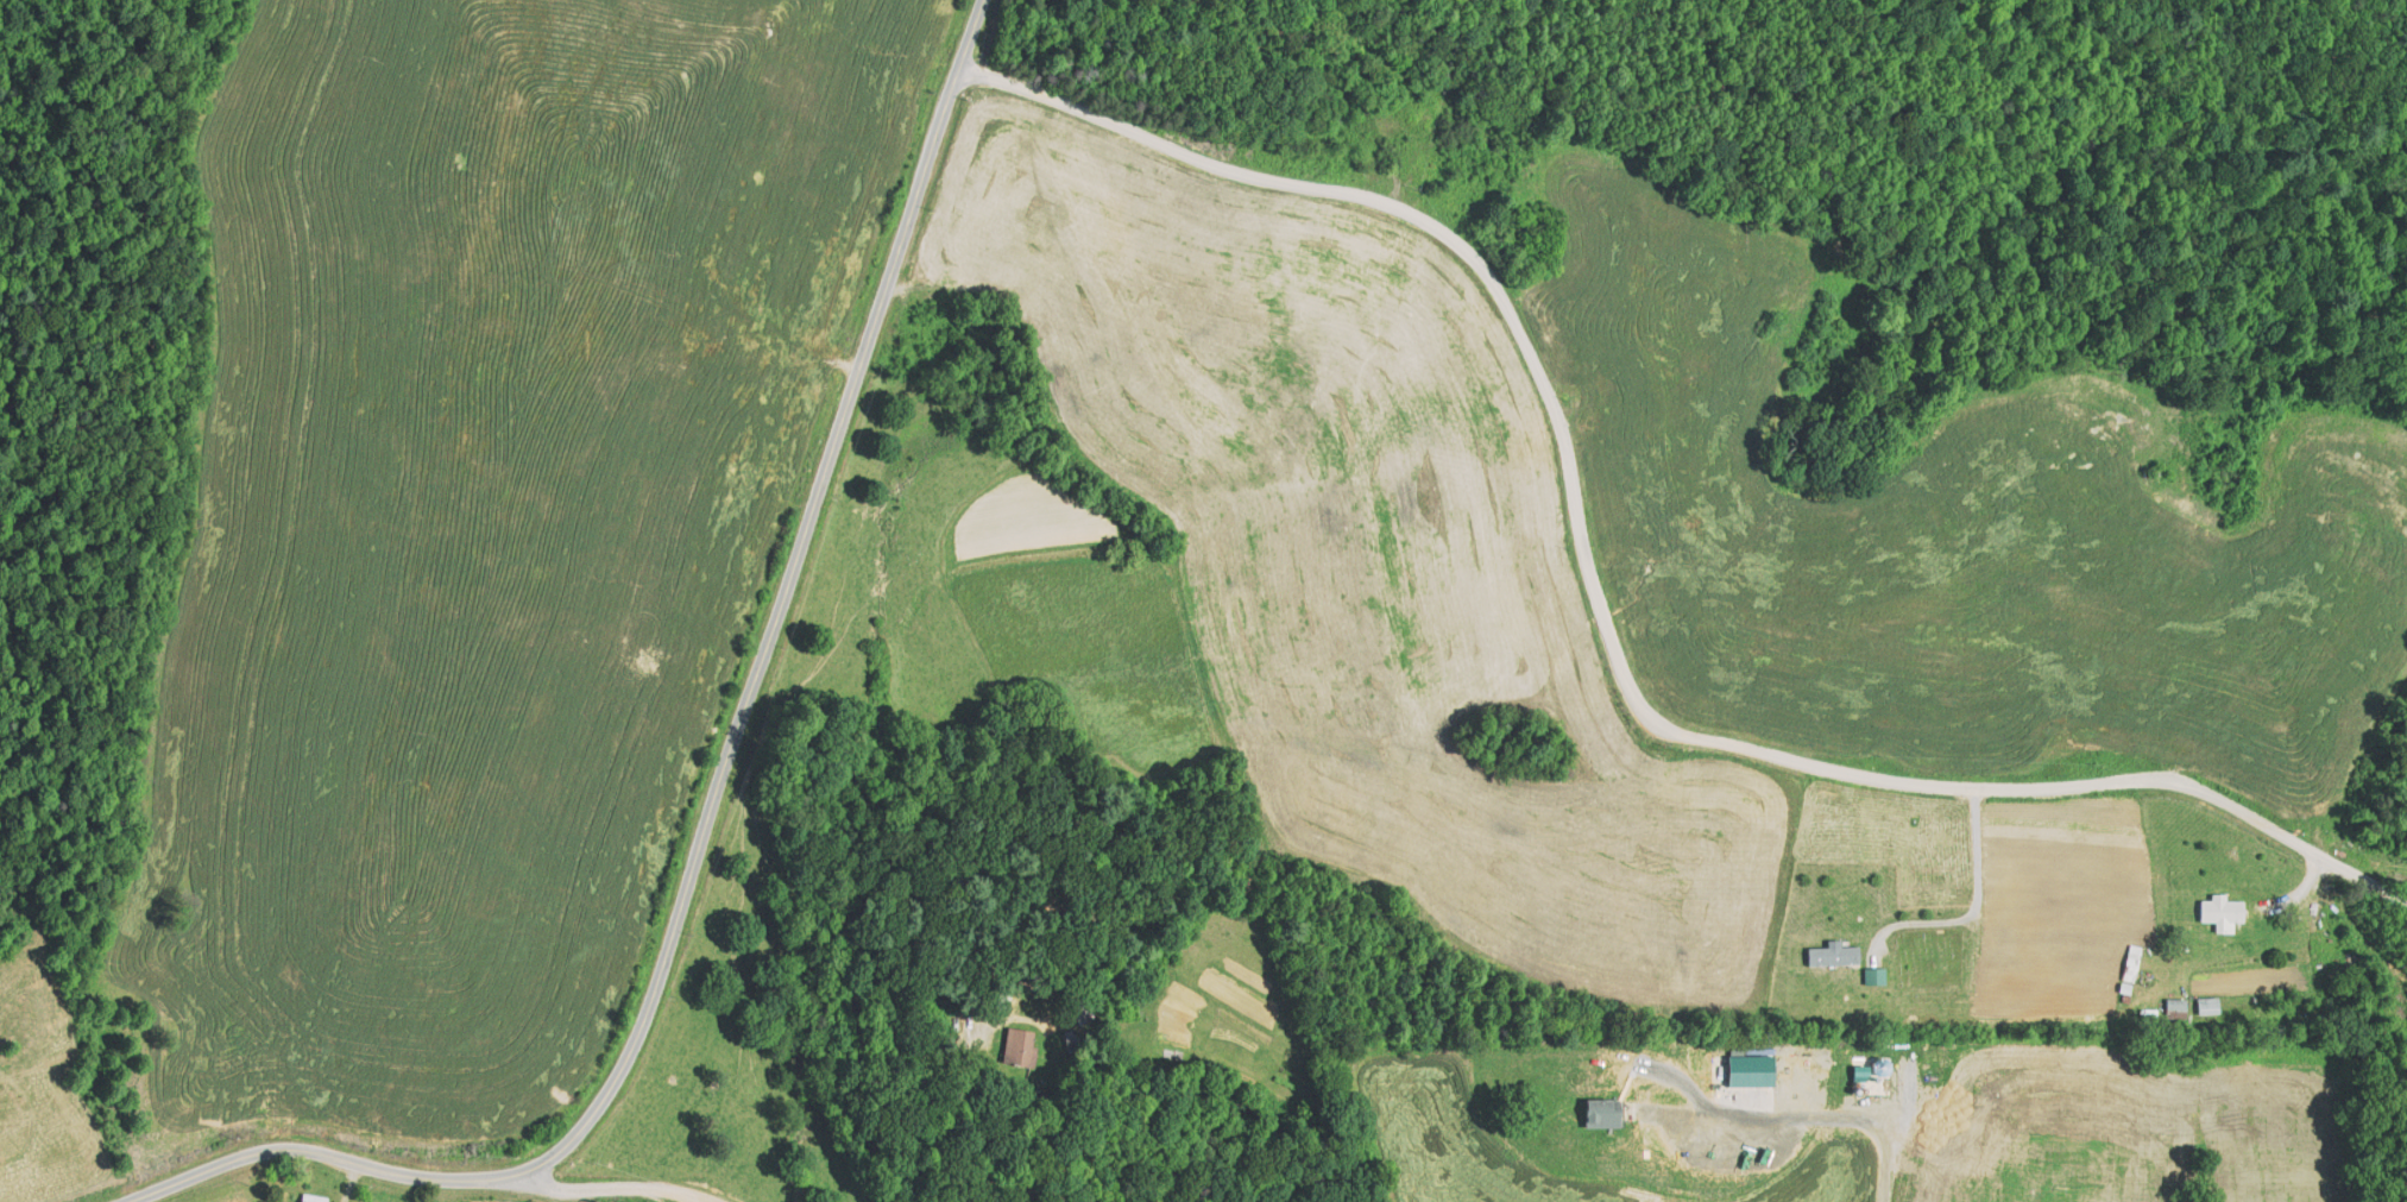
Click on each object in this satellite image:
road: (1595, 635)
road: (731, 750)
road: (1961, 908)
building: (2225, 914)
building: (1835, 956)
building: (2135, 964)
building: (1876, 976)
building: (2179, 1006)
building: (2210, 1006)
building: (2153, 1017)
building: (1023, 1047)
road: (1809, 1109)
building: (1617, 1113)
road: (970, 1120)
road: (549, 1191)
building: (311, 1198)

